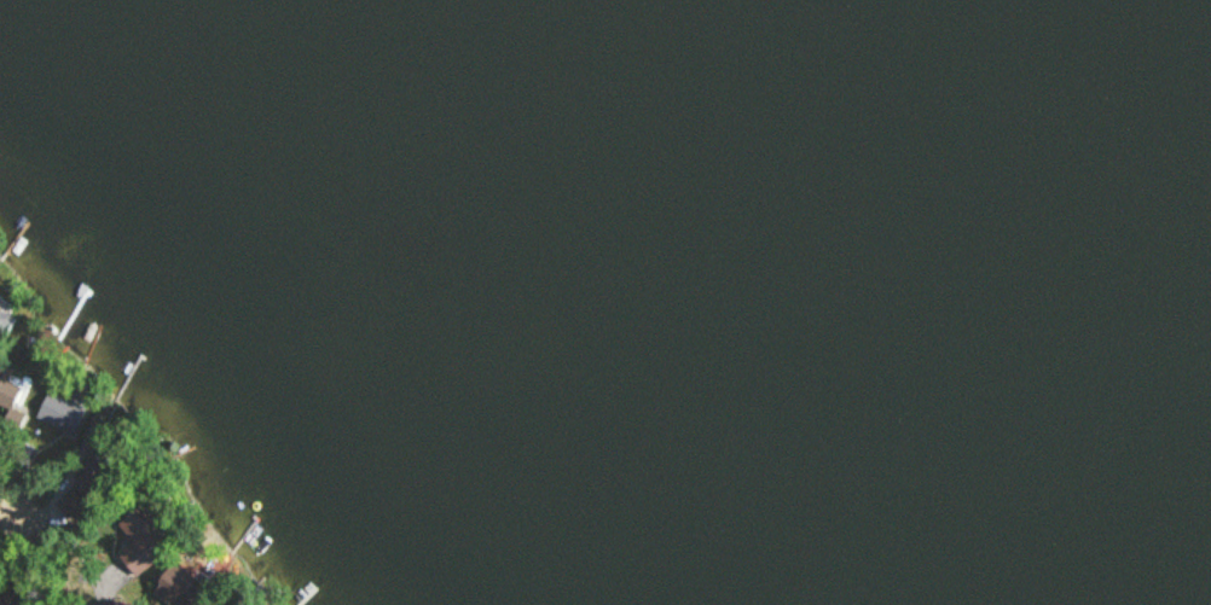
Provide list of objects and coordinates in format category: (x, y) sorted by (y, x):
building: (6, 326)
building: (10, 389)
building: (58, 414)
building: (74, 502)
road: (24, 510)
building: (141, 543)
building: (179, 588)
building: (121, 604)

